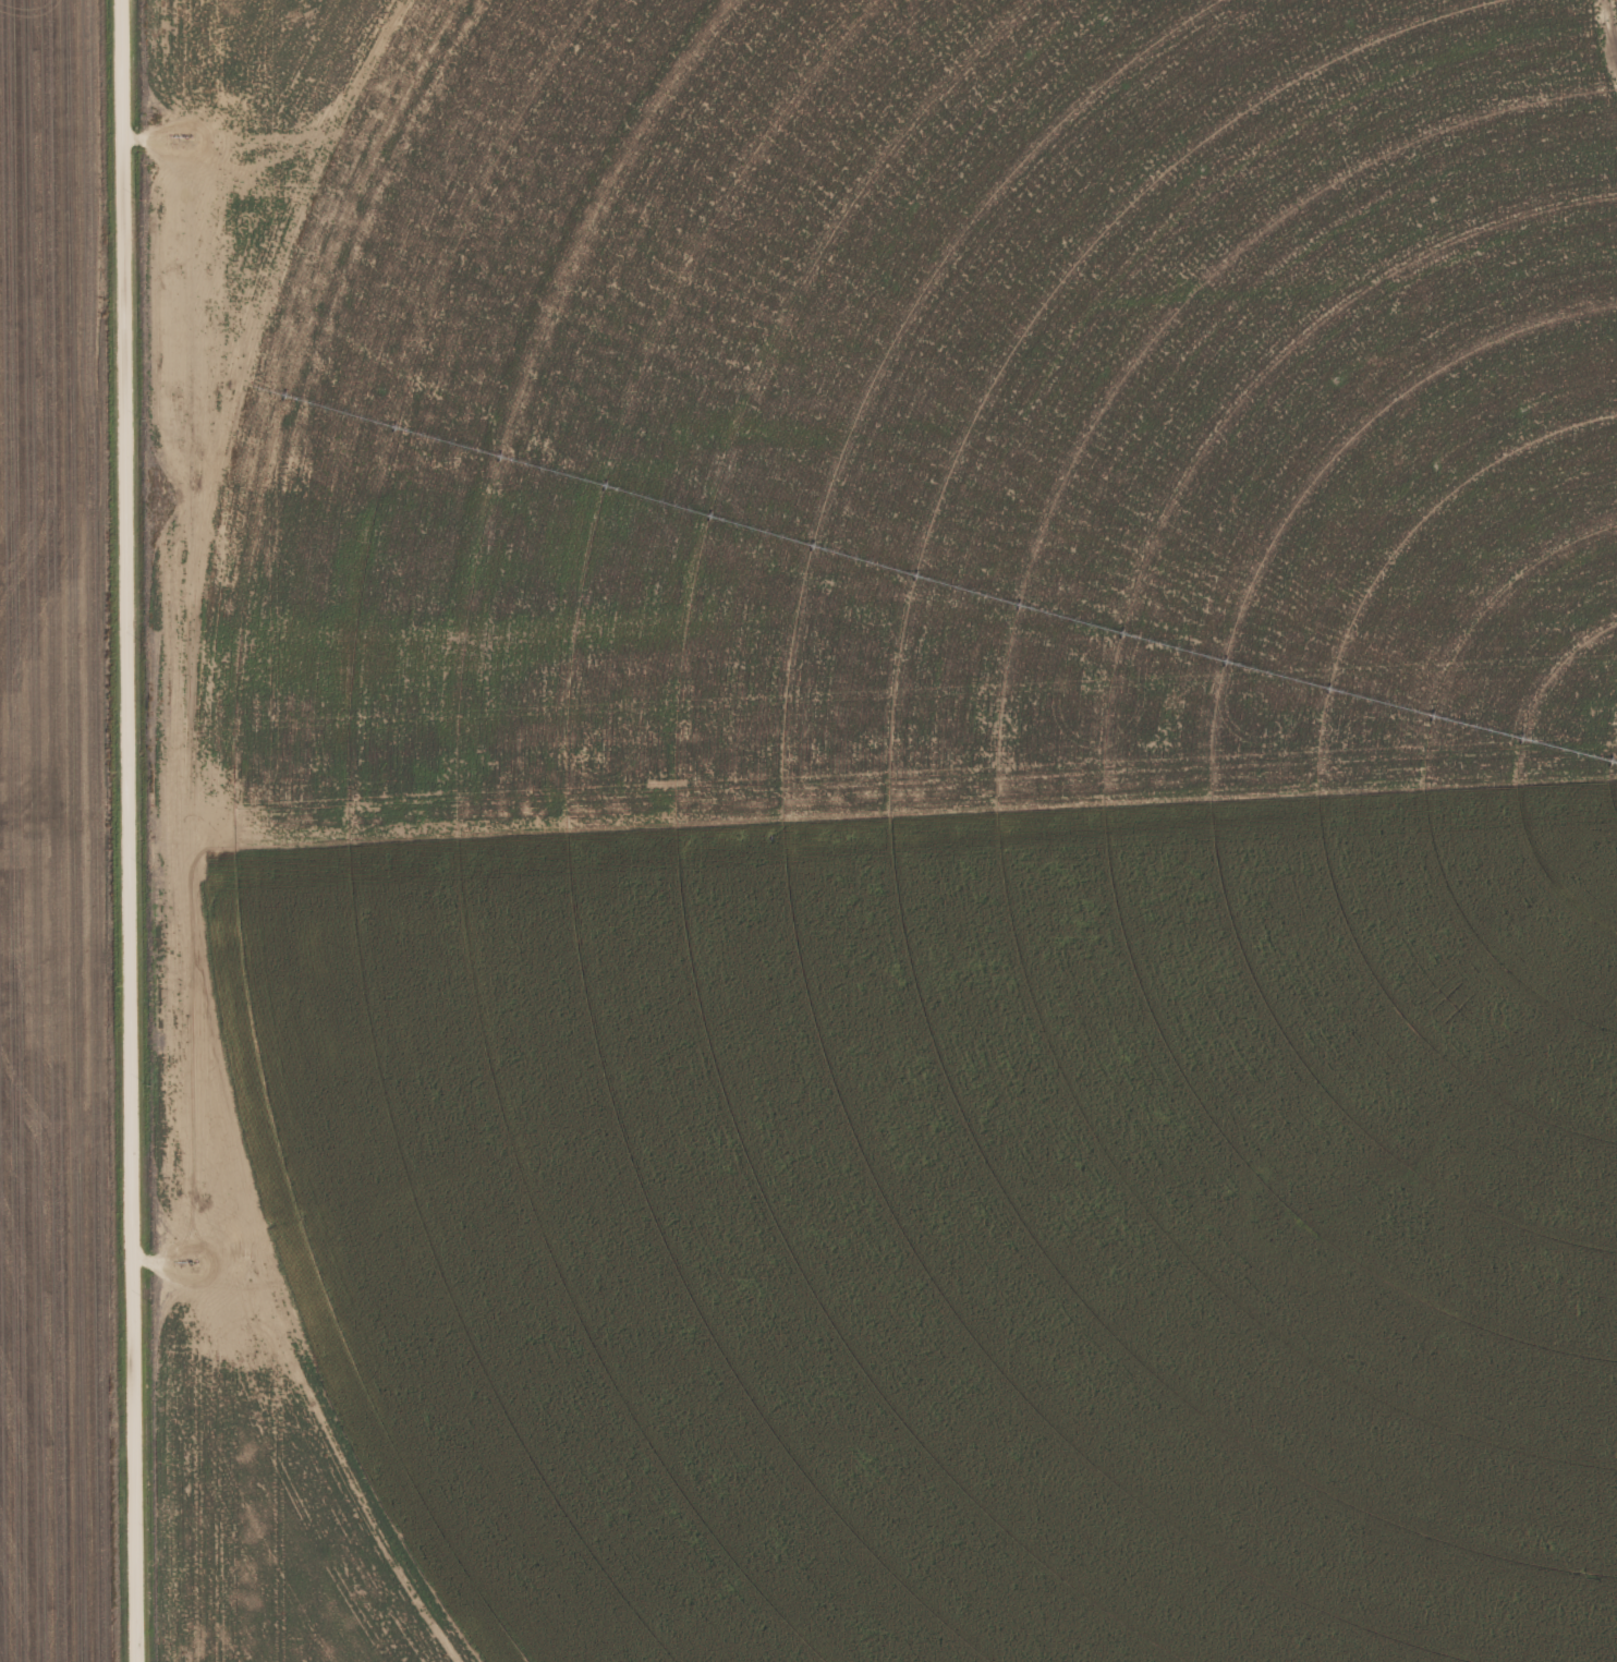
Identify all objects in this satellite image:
road: (138, 830)

